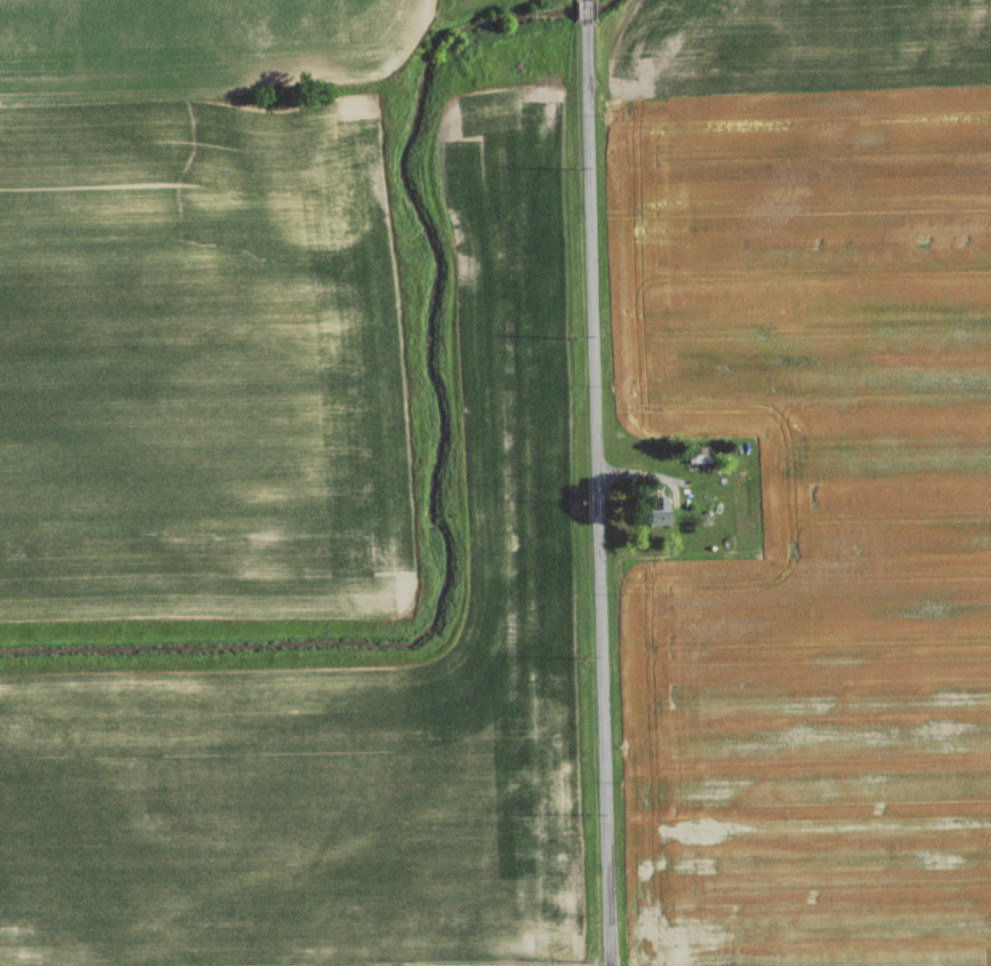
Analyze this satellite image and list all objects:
crop: (795, 44)
crop: (197, 45)
crop: (196, 359)
road: (597, 483)
crop: (811, 522)
crop: (349, 700)

